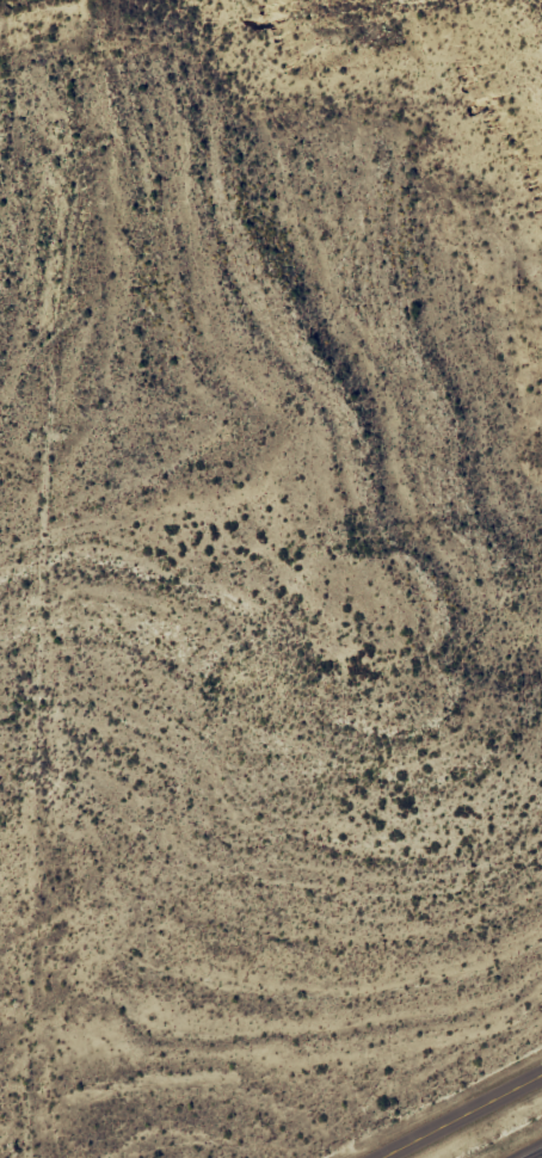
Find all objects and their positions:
road: (462, 1116)

